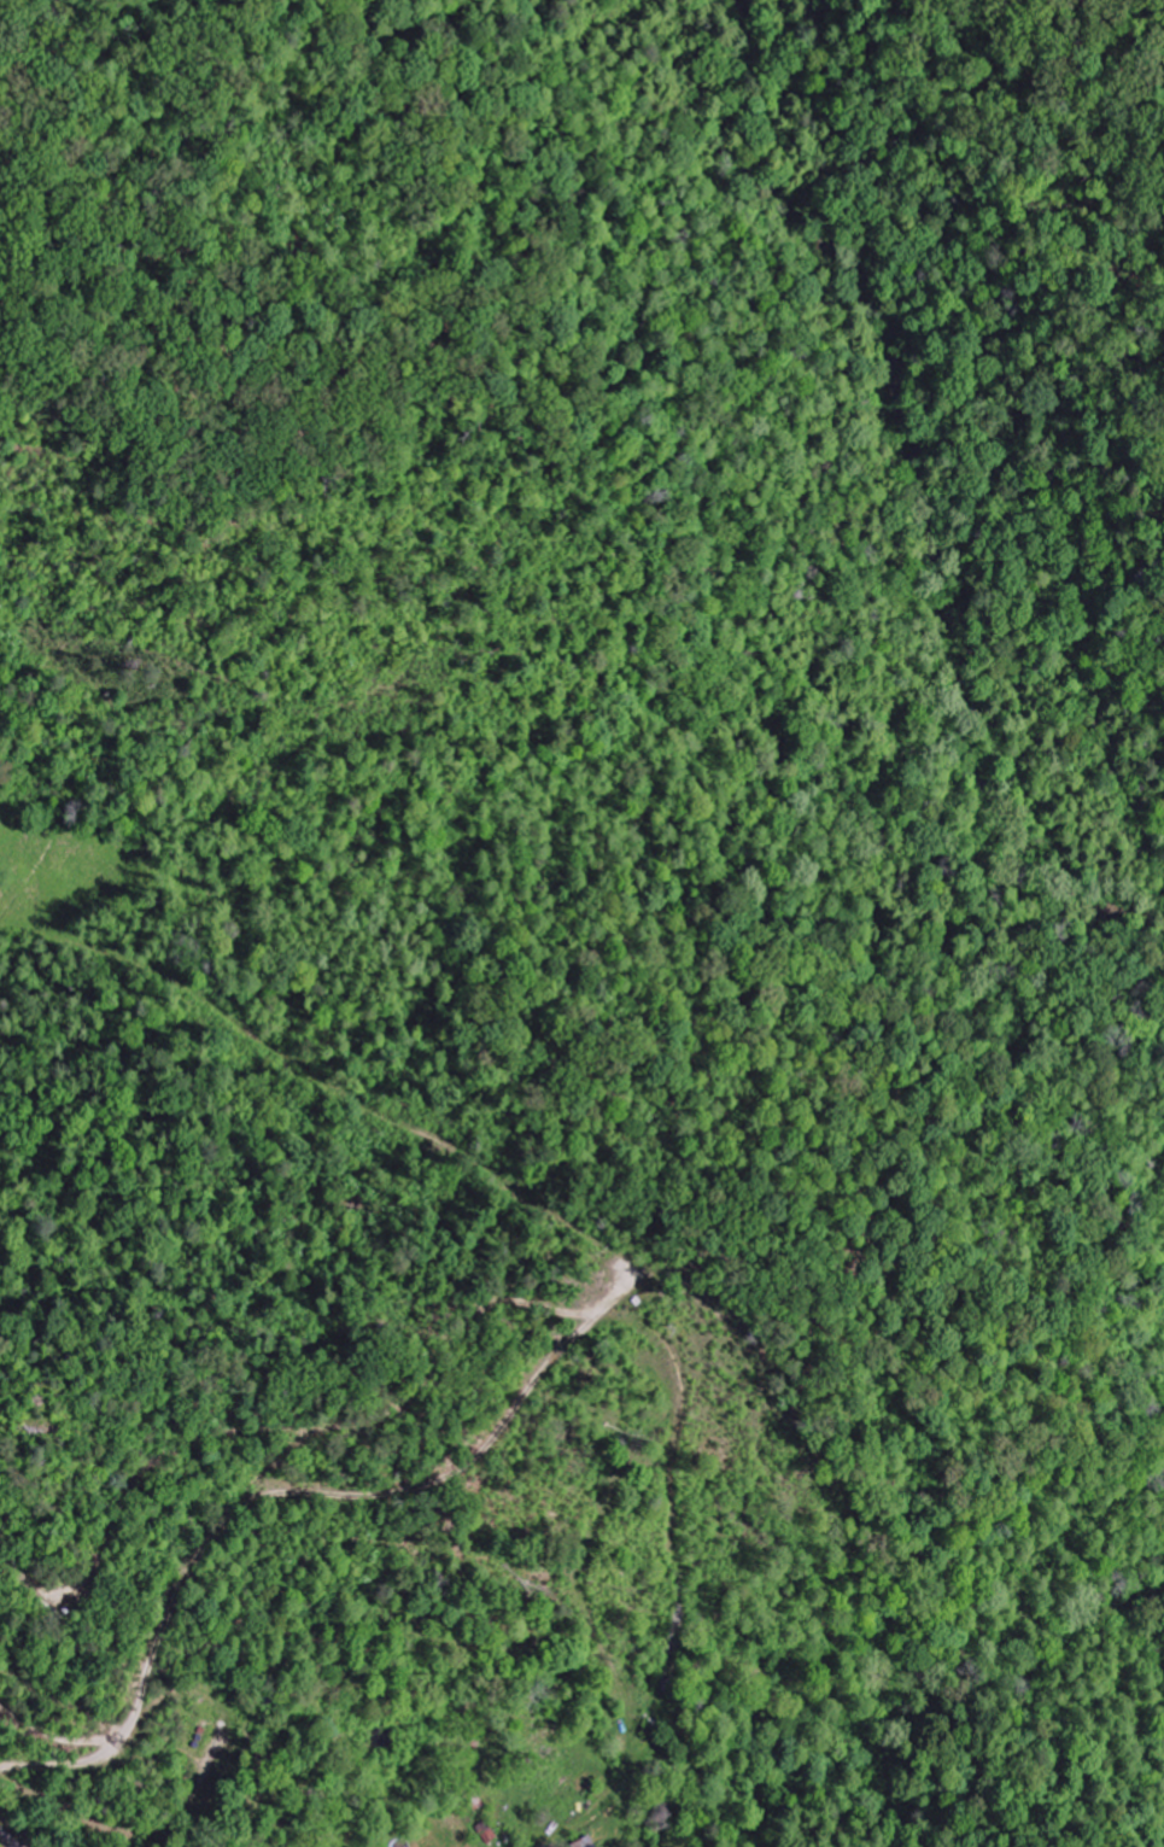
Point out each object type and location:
road: (677, 1699)
road: (8, 1839)

